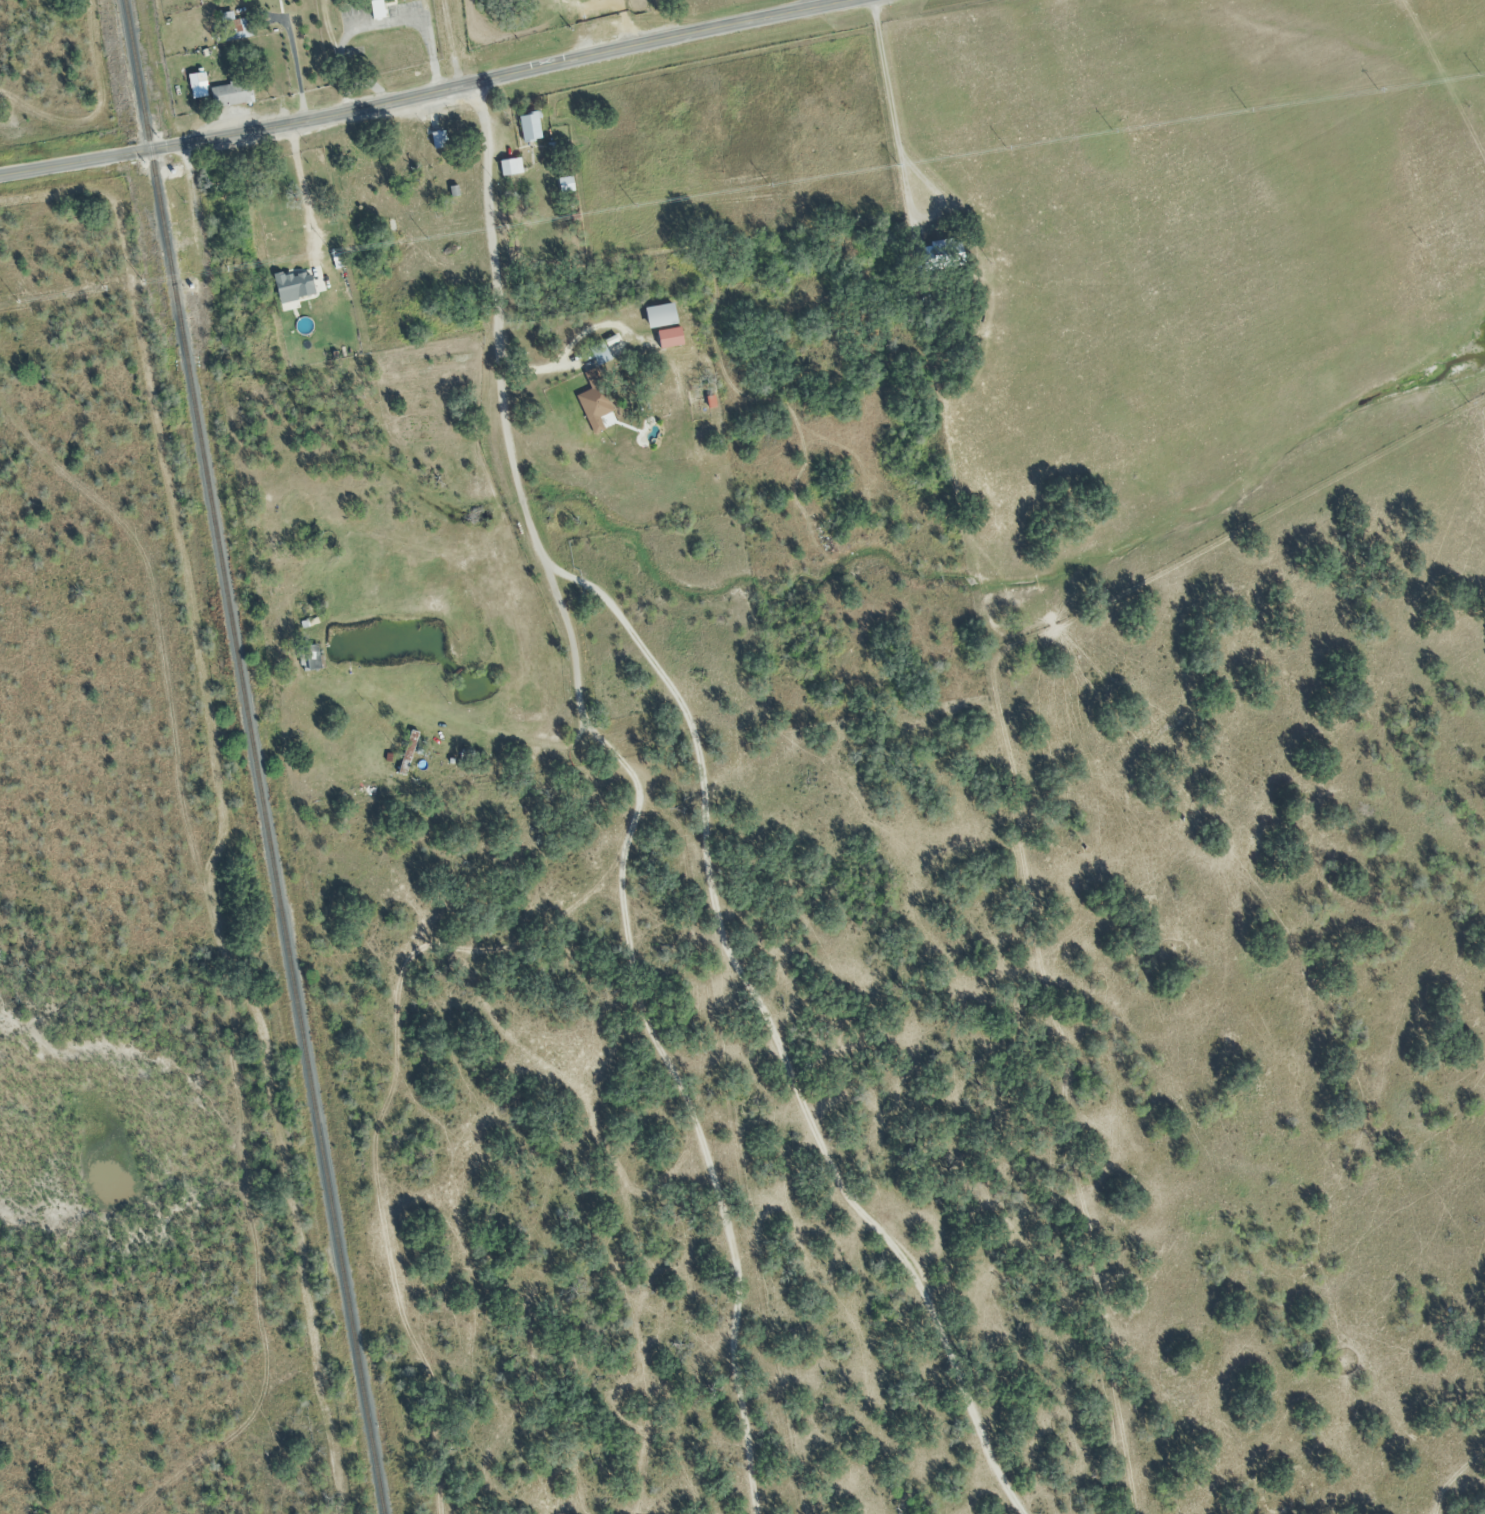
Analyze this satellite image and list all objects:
building: (577, 0)
road: (844, 2)
building: (373, 10)
building: (232, 28)
road: (435, 92)
building: (228, 95)
building: (528, 128)
building: (436, 141)
building: (509, 168)
road: (308, 193)
building: (284, 235)
building: (657, 317)
building: (598, 354)
building: (593, 402)
building: (312, 658)
road: (467, 727)
building: (406, 754)
railway: (252, 756)
road: (712, 797)
road: (658, 1027)

